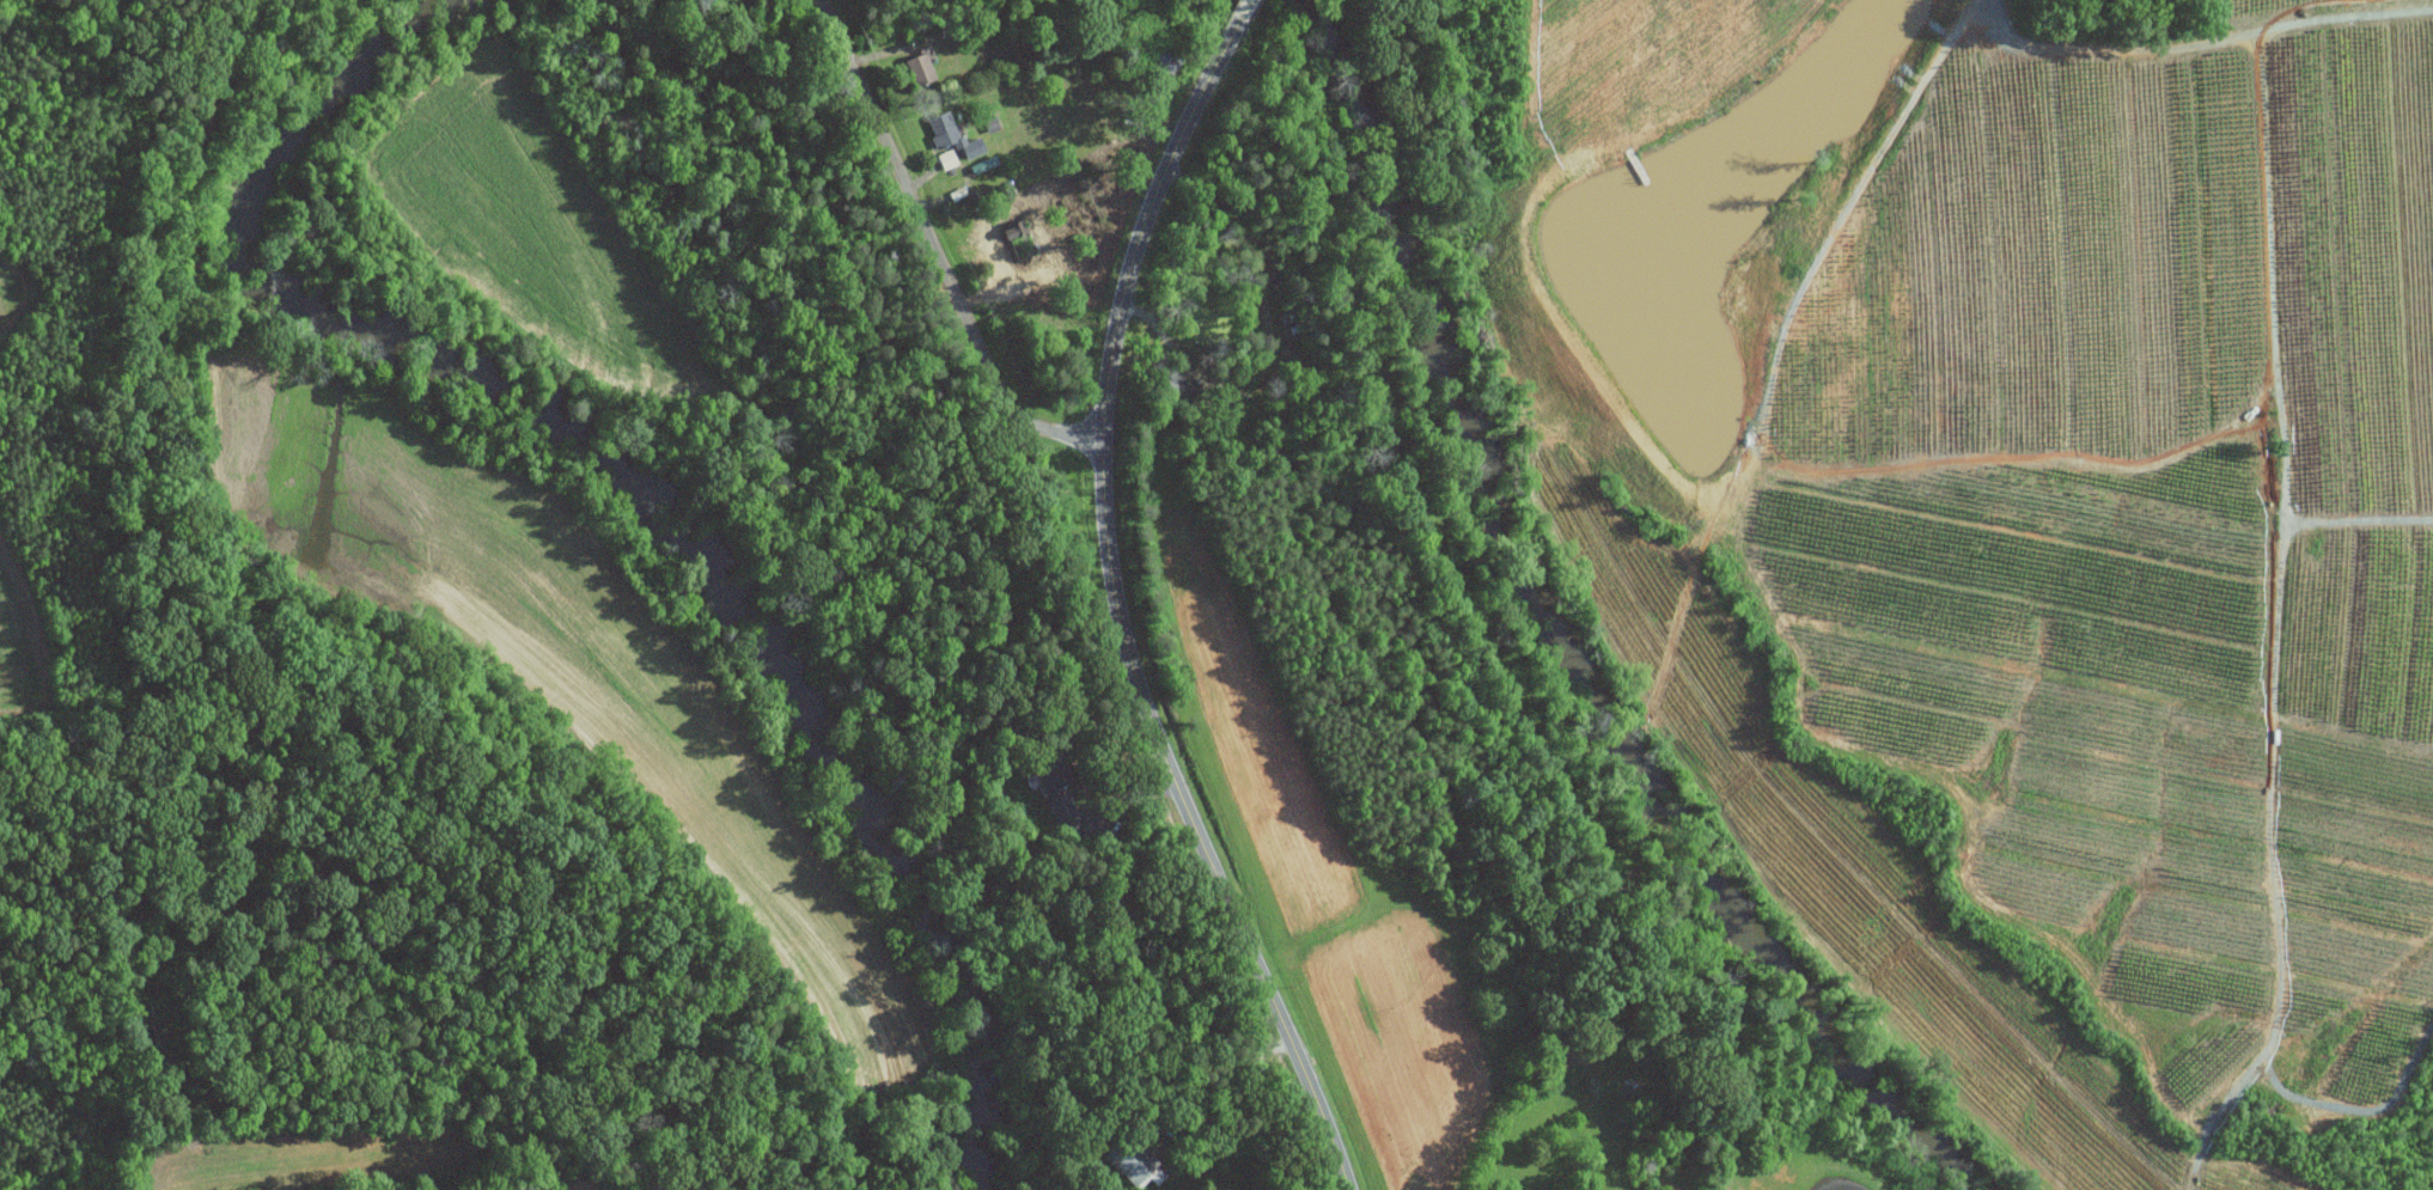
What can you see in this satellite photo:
road: (1243, 12)
building: (919, 67)
building: (950, 134)
building: (946, 158)
road: (934, 251)
road: (1118, 616)
road: (1165, 1097)

